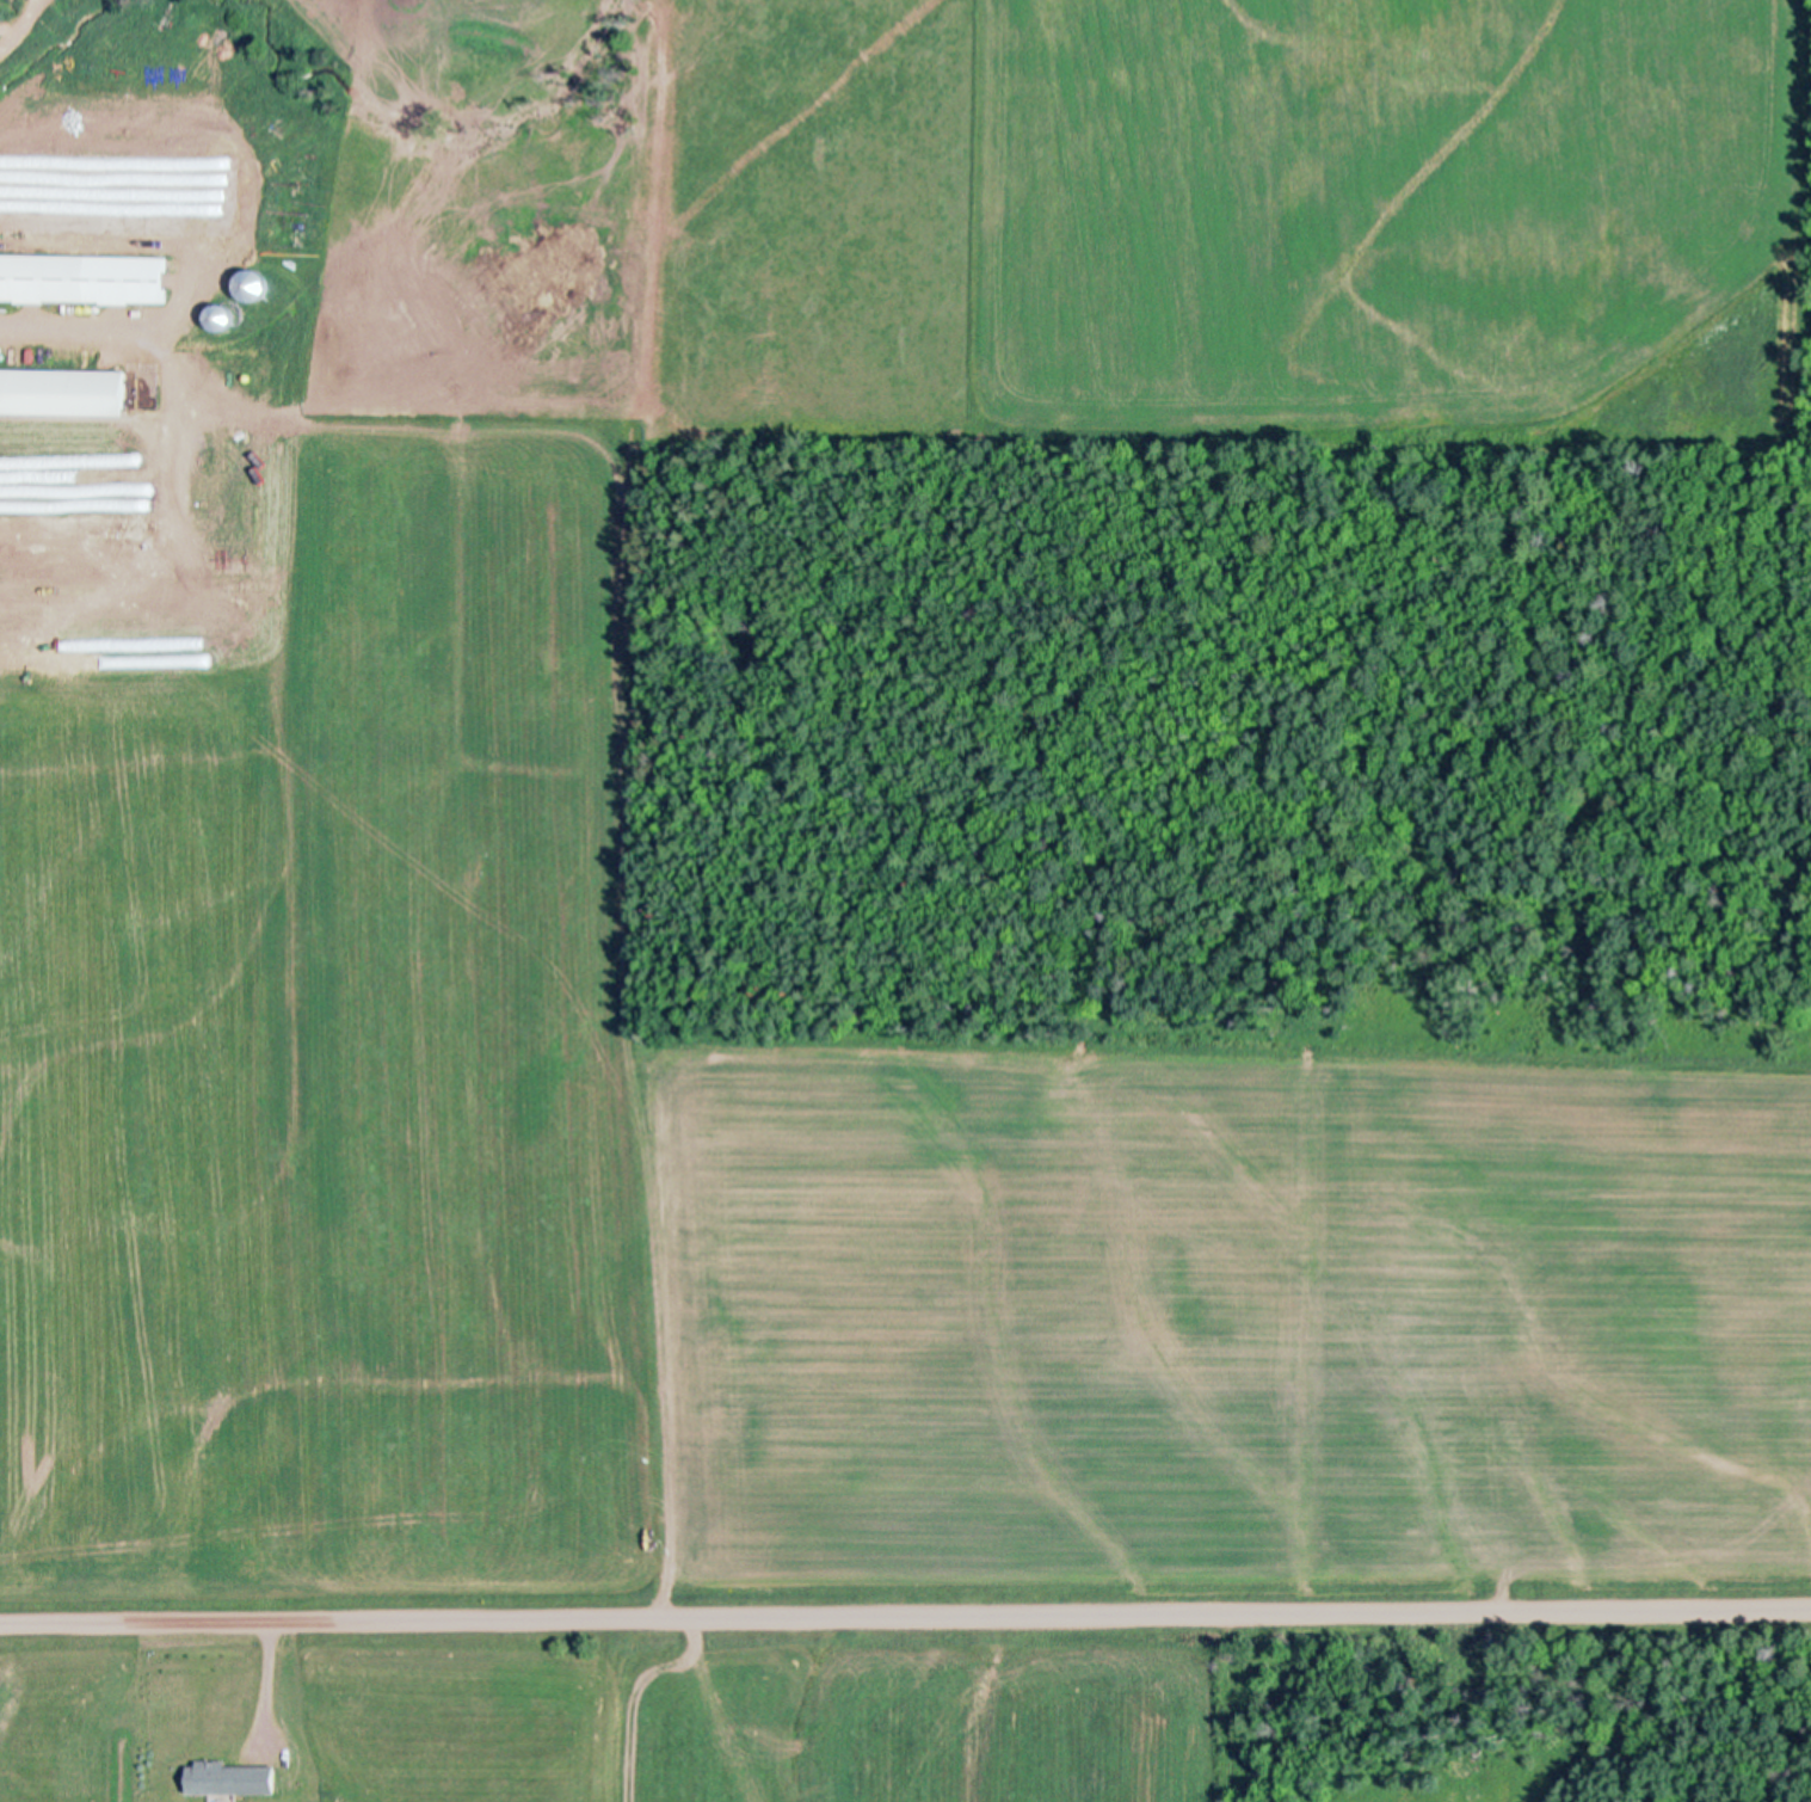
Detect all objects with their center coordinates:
building: (82, 277)
building: (62, 392)
building: (214, 484)
road: (905, 1617)
building: (234, 1778)

